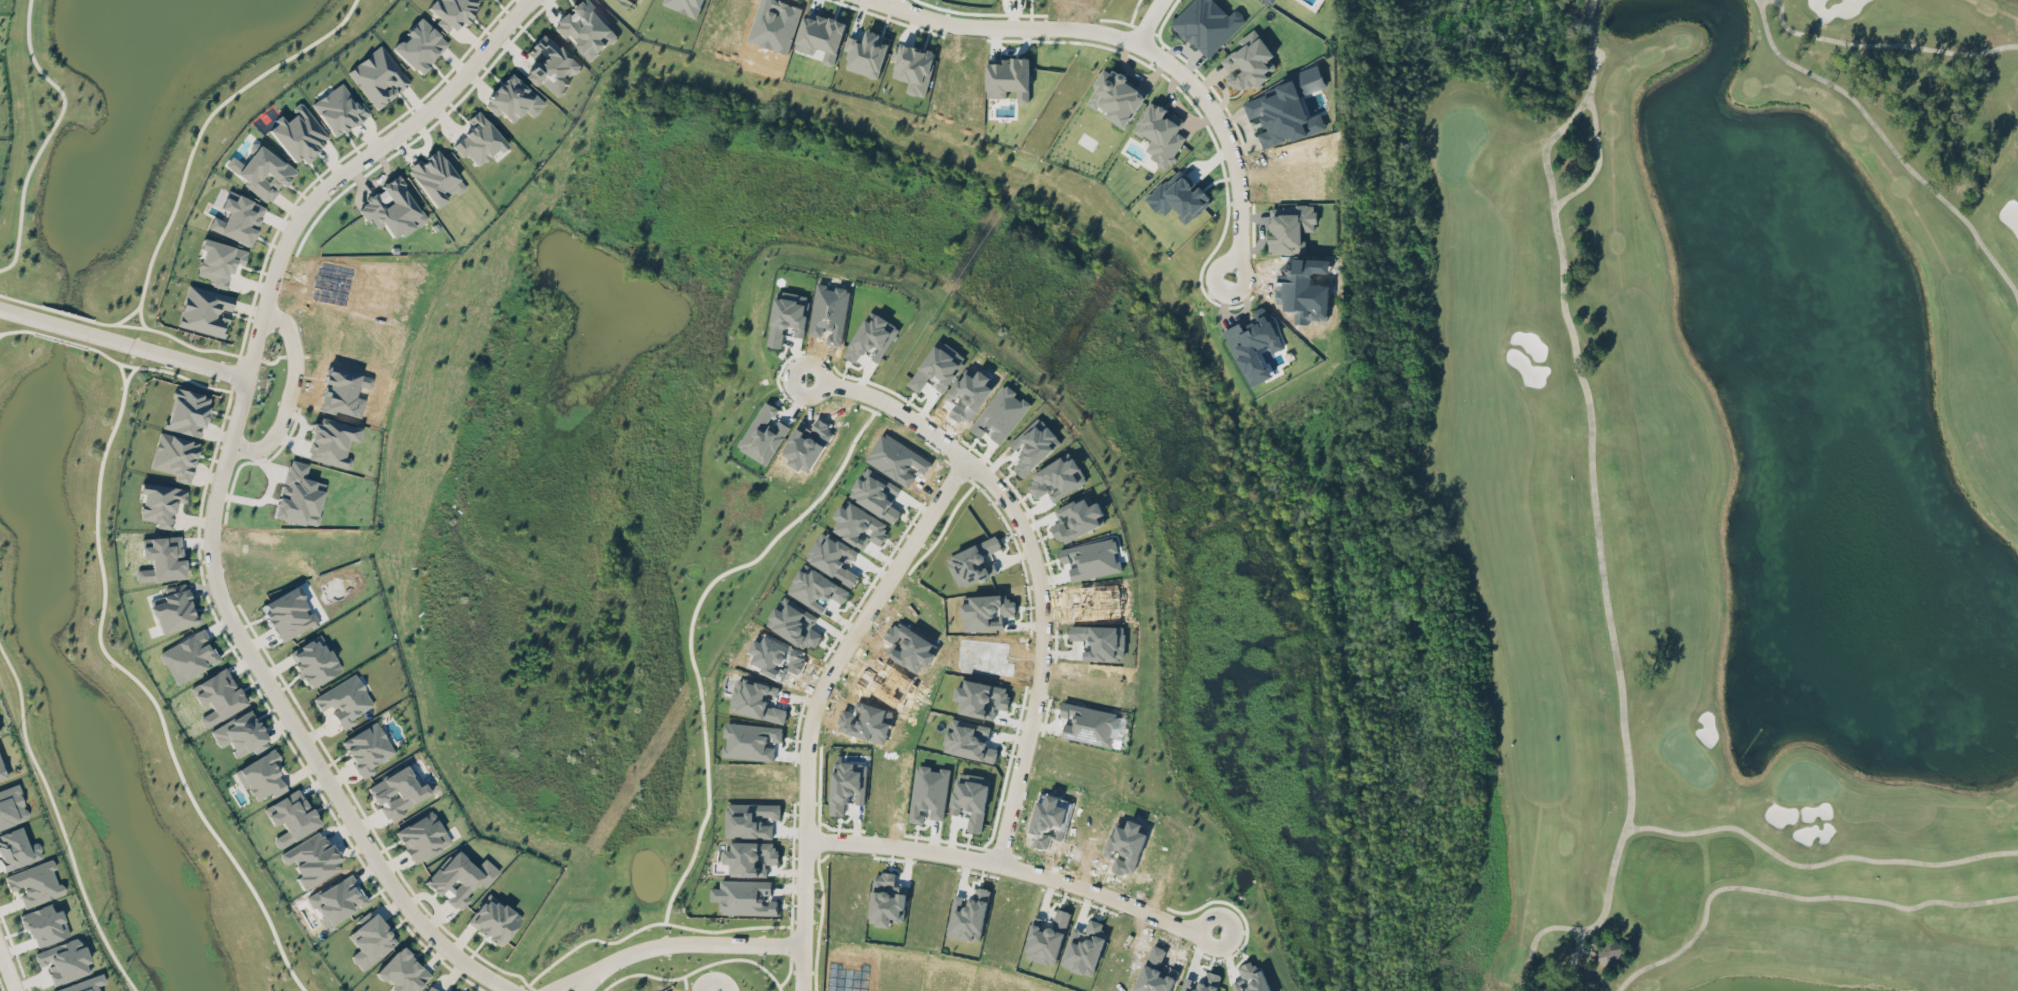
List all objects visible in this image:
building: (1272, 1)
building: (686, 5)
building: (451, 11)
road: (1148, 21)
building: (1208, 24)
road: (1003, 27)
building: (587, 28)
building: (821, 35)
building: (419, 45)
building: (867, 54)
building: (1249, 63)
building: (551, 65)
building: (914, 67)
building: (378, 76)
building: (1008, 77)
building: (1116, 96)
building: (513, 98)
building: (339, 109)
building: (1160, 132)
building: (298, 133)
road: (49, 134)
building: (479, 140)
road: (1228, 141)
road: (194, 144)
building: (264, 172)
building: (436, 177)
building: (1180, 198)
building: (238, 218)
building: (1290, 228)
building: (219, 261)
road: (21, 300)
building: (205, 310)
road: (68, 313)
road: (18, 314)
building: (788, 316)
road: (64, 327)
road: (13, 330)
road: (1, 332)
road: (60, 338)
building: (872, 339)
building: (1257, 345)
road: (168, 356)
building: (938, 367)
road: (237, 370)
road: (291, 395)
road: (895, 407)
building: (187, 411)
building: (1001, 414)
building: (764, 434)
building: (174, 455)
building: (1057, 478)
park: (1679, 489)
building: (876, 493)
road: (217, 494)
building: (160, 502)
road: (934, 508)
building: (859, 525)
building: (161, 558)
building: (1091, 558)
building: (973, 562)
building: (816, 589)
building: (173, 609)
building: (986, 612)
building: (288, 613)
building: (187, 655)
building: (314, 660)
road: (132, 675)
building: (217, 696)
building: (343, 700)
building: (760, 701)
building: (1088, 724)
building: (240, 733)
building: (969, 740)
building: (751, 741)
building: (367, 748)
building: (3, 769)
building: (261, 775)
building: (848, 786)
building: (397, 792)
building: (971, 799)
building: (11, 806)
building: (292, 817)
building: (752, 819)
road: (60, 821)
building: (422, 837)
building: (751, 857)
building: (311, 858)
building: (459, 878)
building: (34, 883)
road: (1107, 896)
building: (748, 897)
building: (337, 899)
building: (887, 899)
building: (968, 915)
building: (493, 919)
building: (44, 924)
building: (1046, 938)
building: (370, 940)
building: (1084, 946)
building: (1609, 951)
building: (63, 960)
road: (801, 969)
building: (402, 971)
road: (573, 979)
road: (590, 979)
building: (1251, 979)
road: (3, 982)
road: (714, 982)
building: (82, 984)
building: (434, 988)

